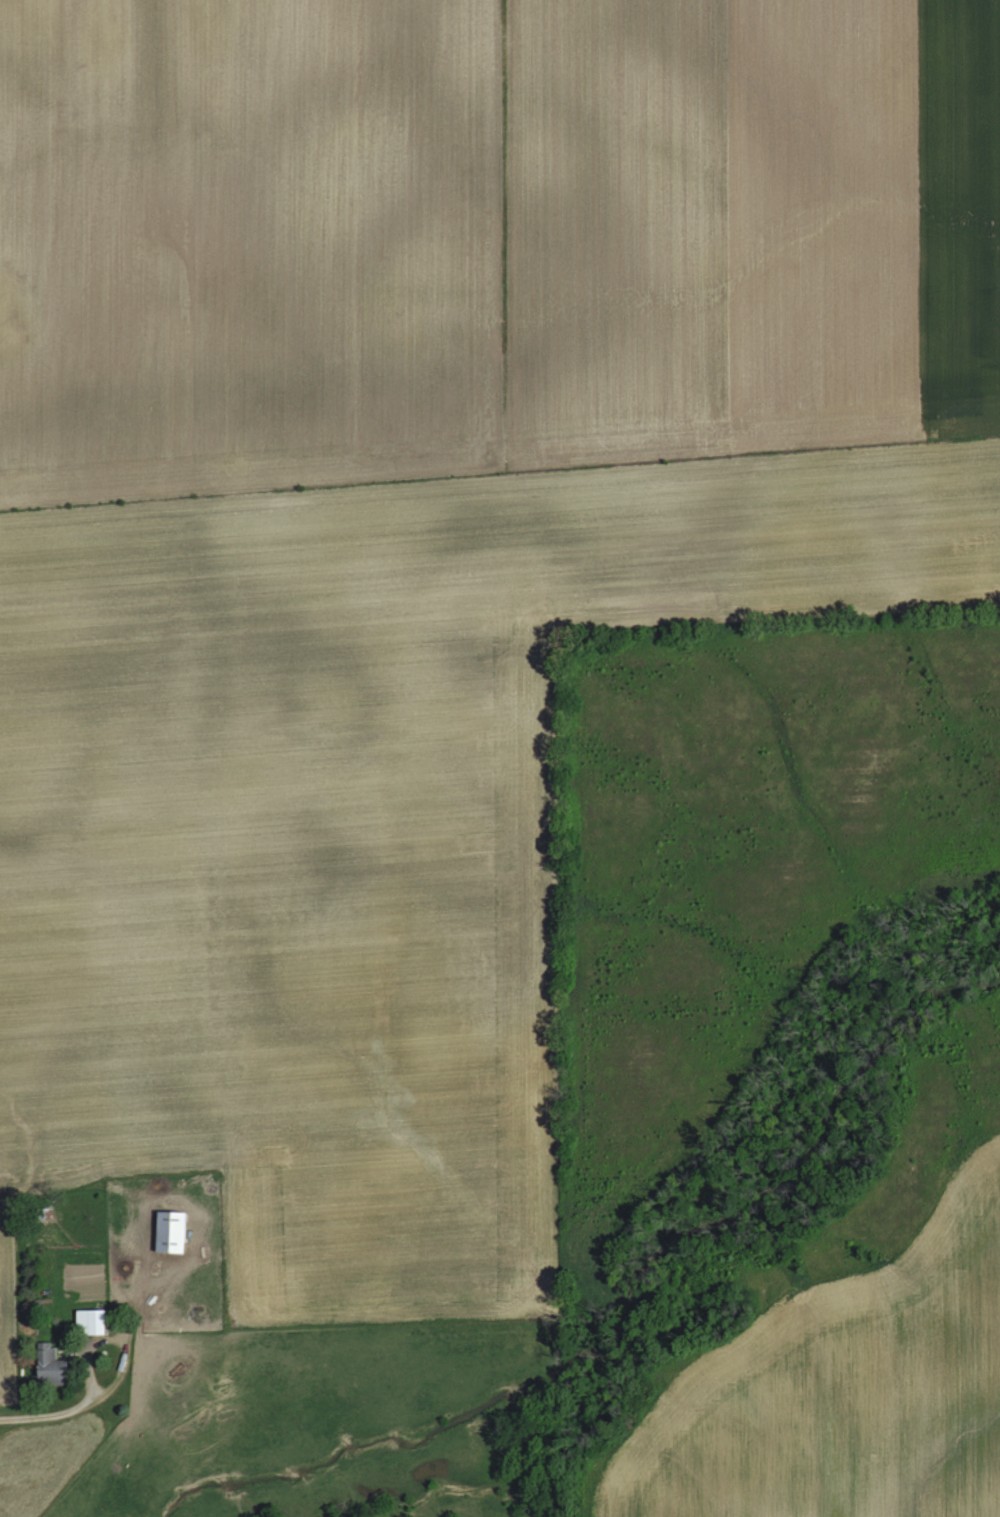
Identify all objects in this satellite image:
building: (170, 1231)
building: (89, 1322)
building: (50, 1365)

